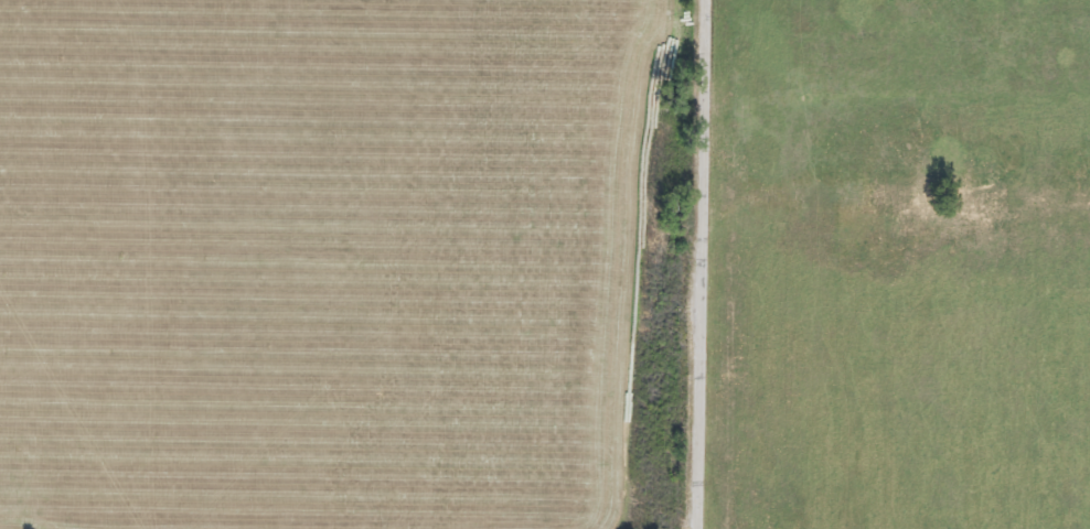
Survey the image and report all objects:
road: (694, 264)

